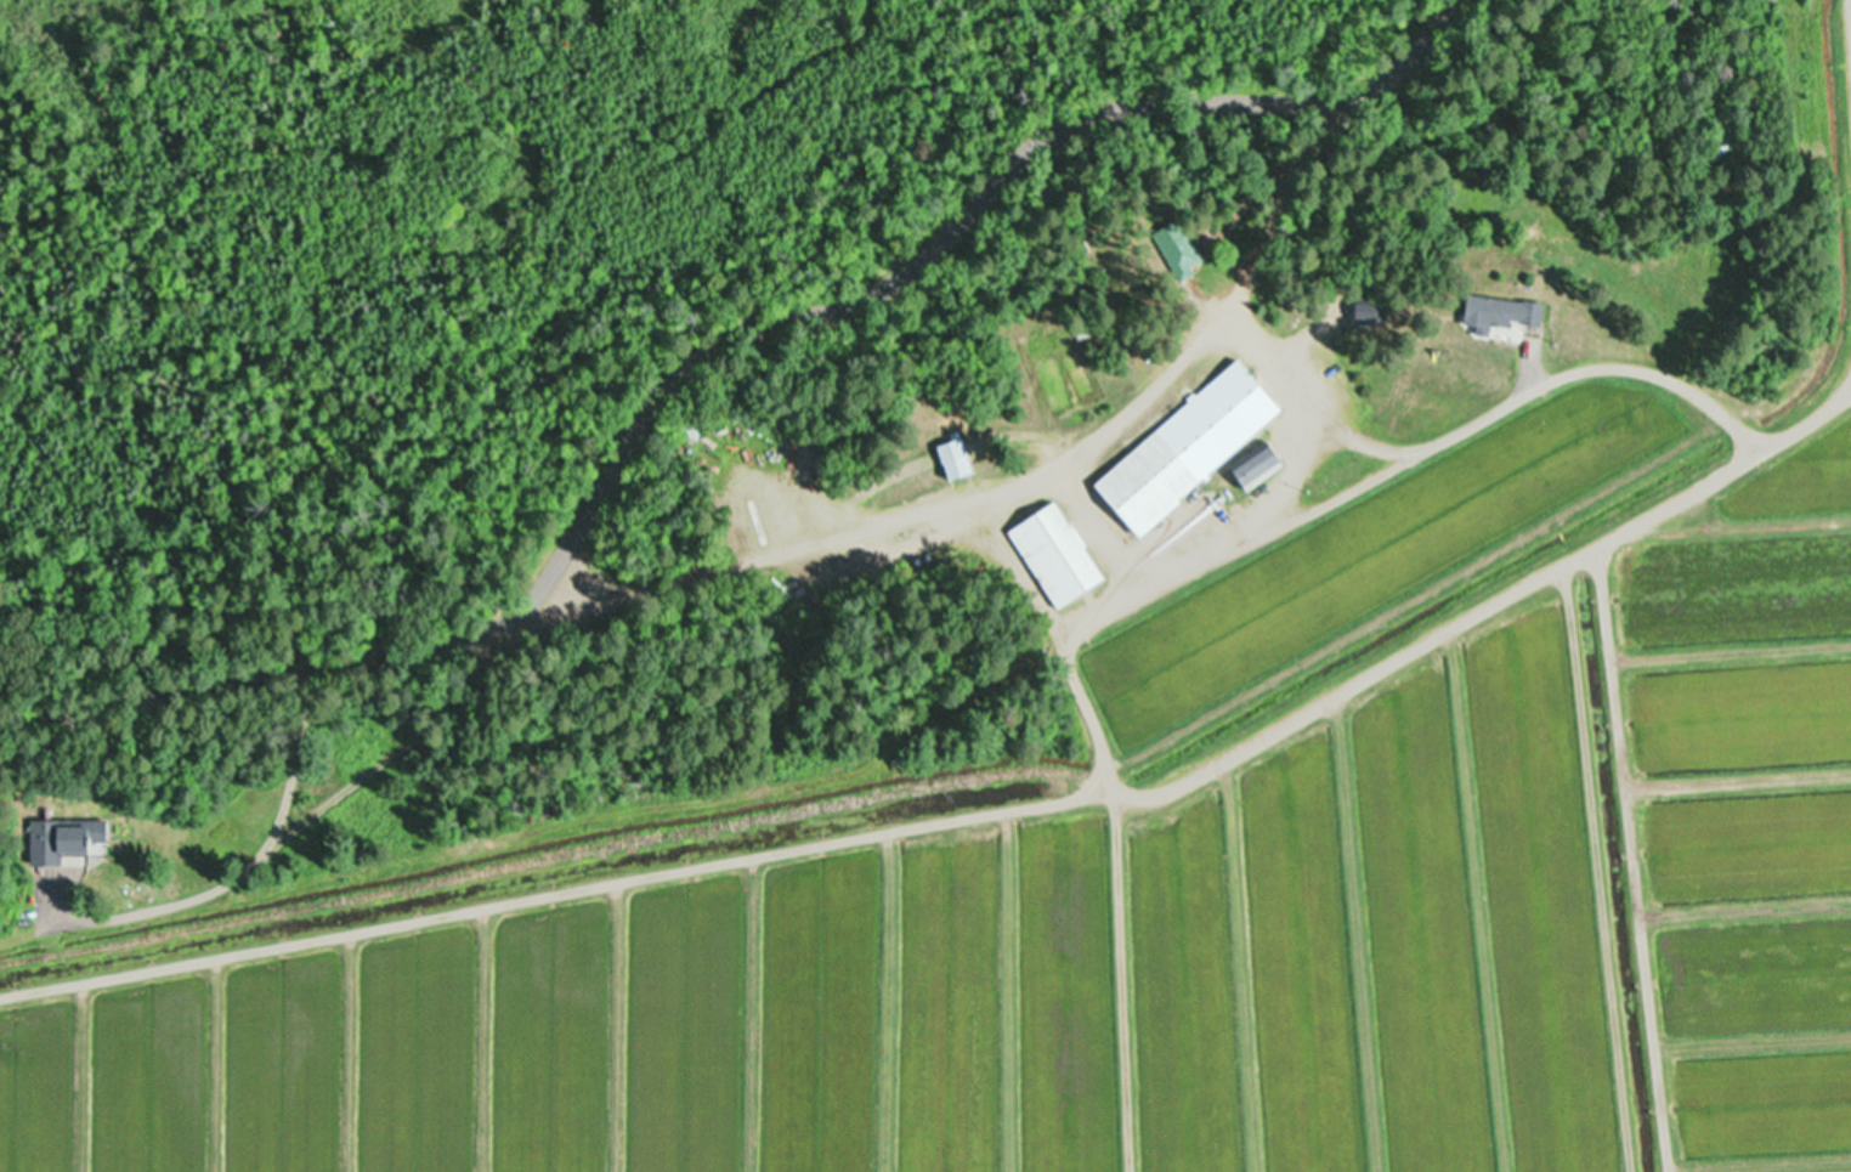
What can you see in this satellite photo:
building: (1176, 249)
road: (904, 259)
building: (1499, 313)
road: (1731, 384)
road: (1456, 397)
building: (1185, 449)
building: (952, 460)
building: (1255, 469)
road: (785, 542)
building: (1054, 556)
road: (259, 668)
road: (1632, 836)
building: (55, 843)
crop: (1162, 855)

